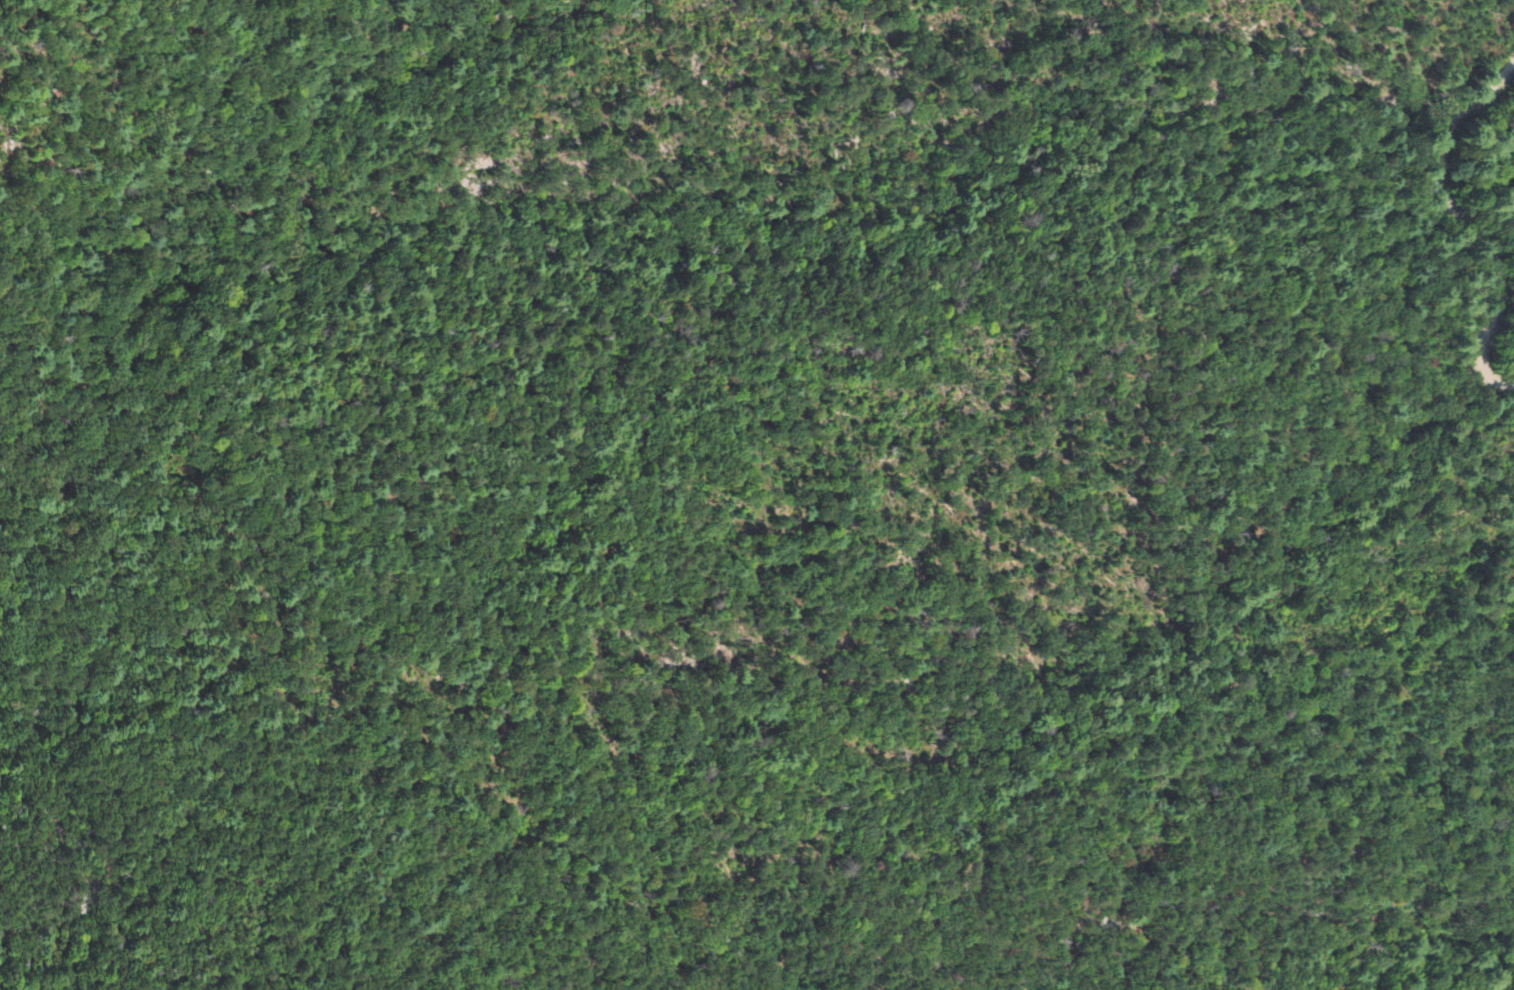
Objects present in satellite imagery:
road: (1468, 234)

